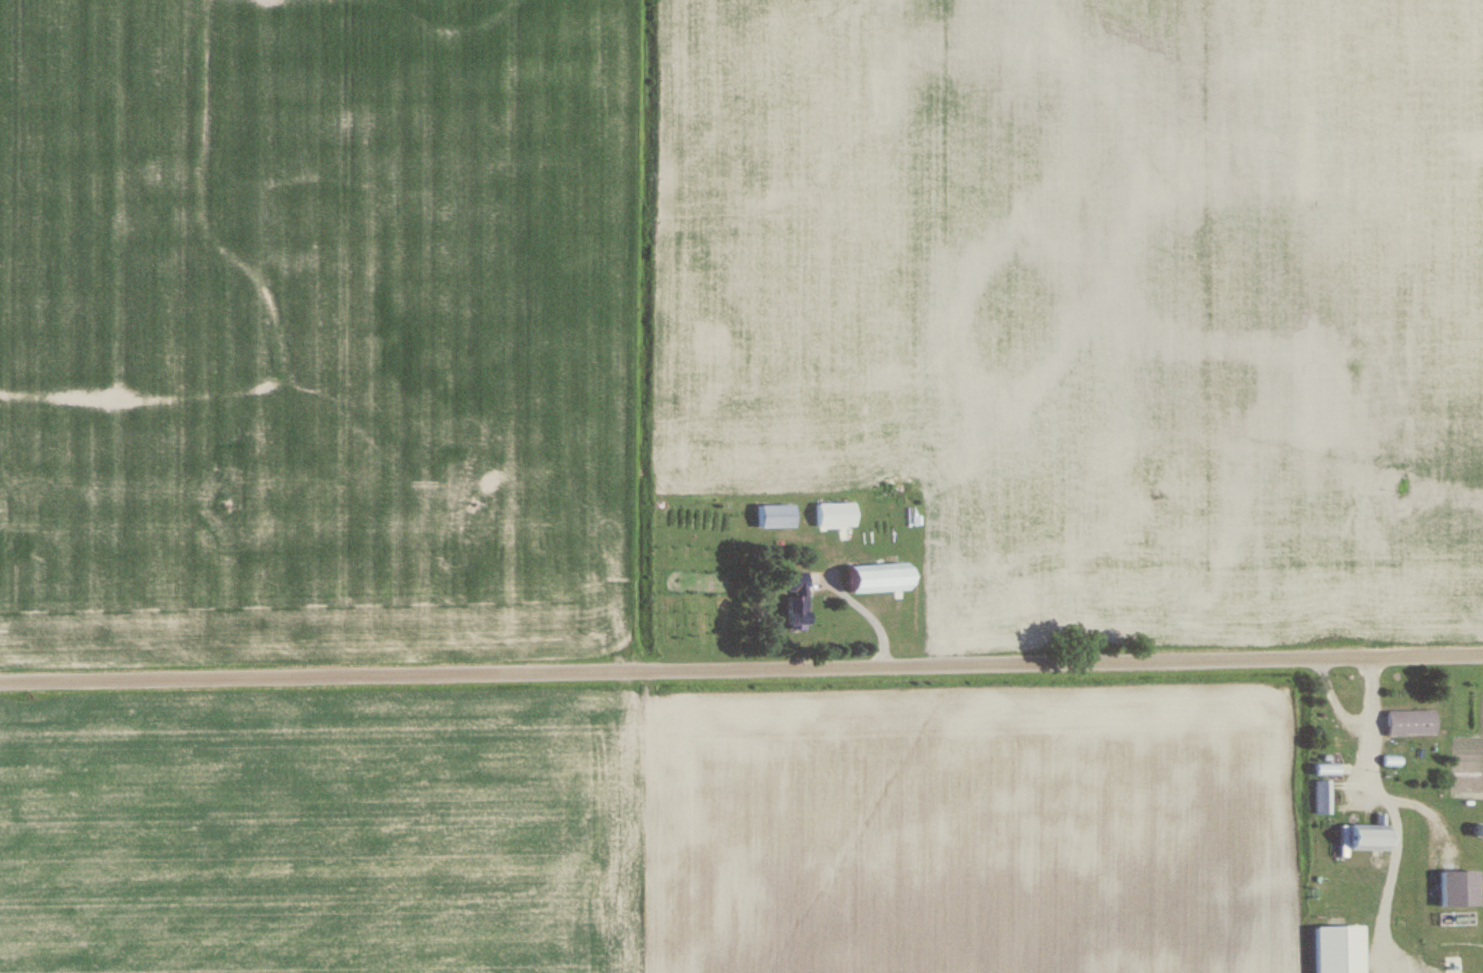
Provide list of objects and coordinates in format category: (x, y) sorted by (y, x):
building: (837, 514)
building: (777, 515)
building: (882, 578)
building: (799, 600)
road: (741, 666)
building: (1413, 722)
building: (1328, 770)
building: (1324, 798)
building: (1372, 837)
building: (1461, 889)

